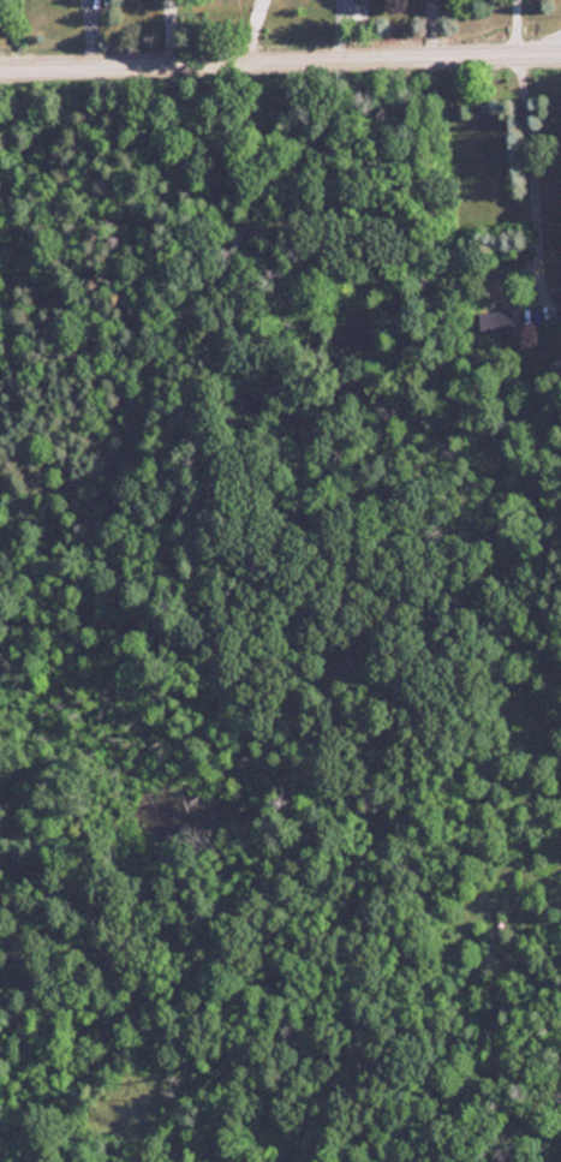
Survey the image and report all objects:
road: (280, 56)
road: (525, 175)
building: (557, 305)

